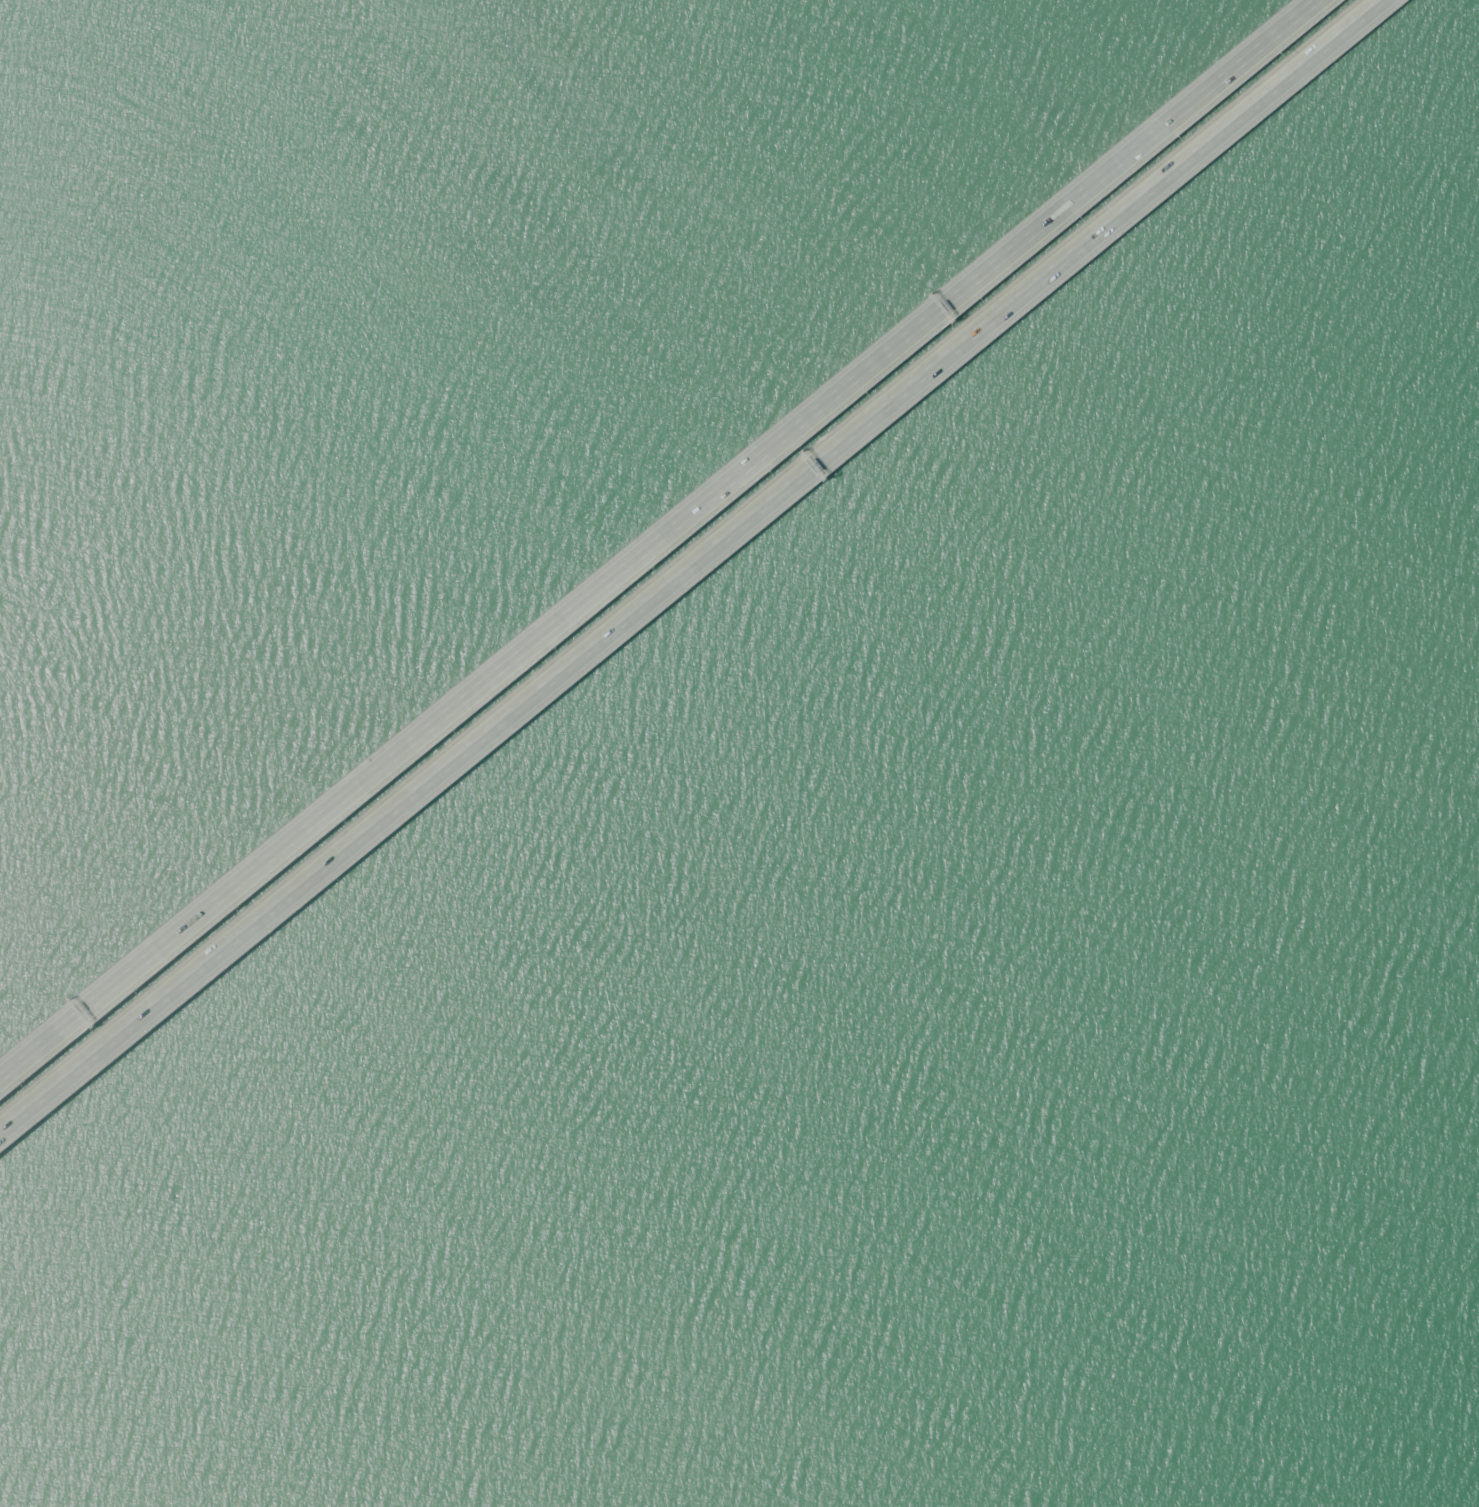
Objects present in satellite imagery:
road: (664, 537)
road: (694, 562)

